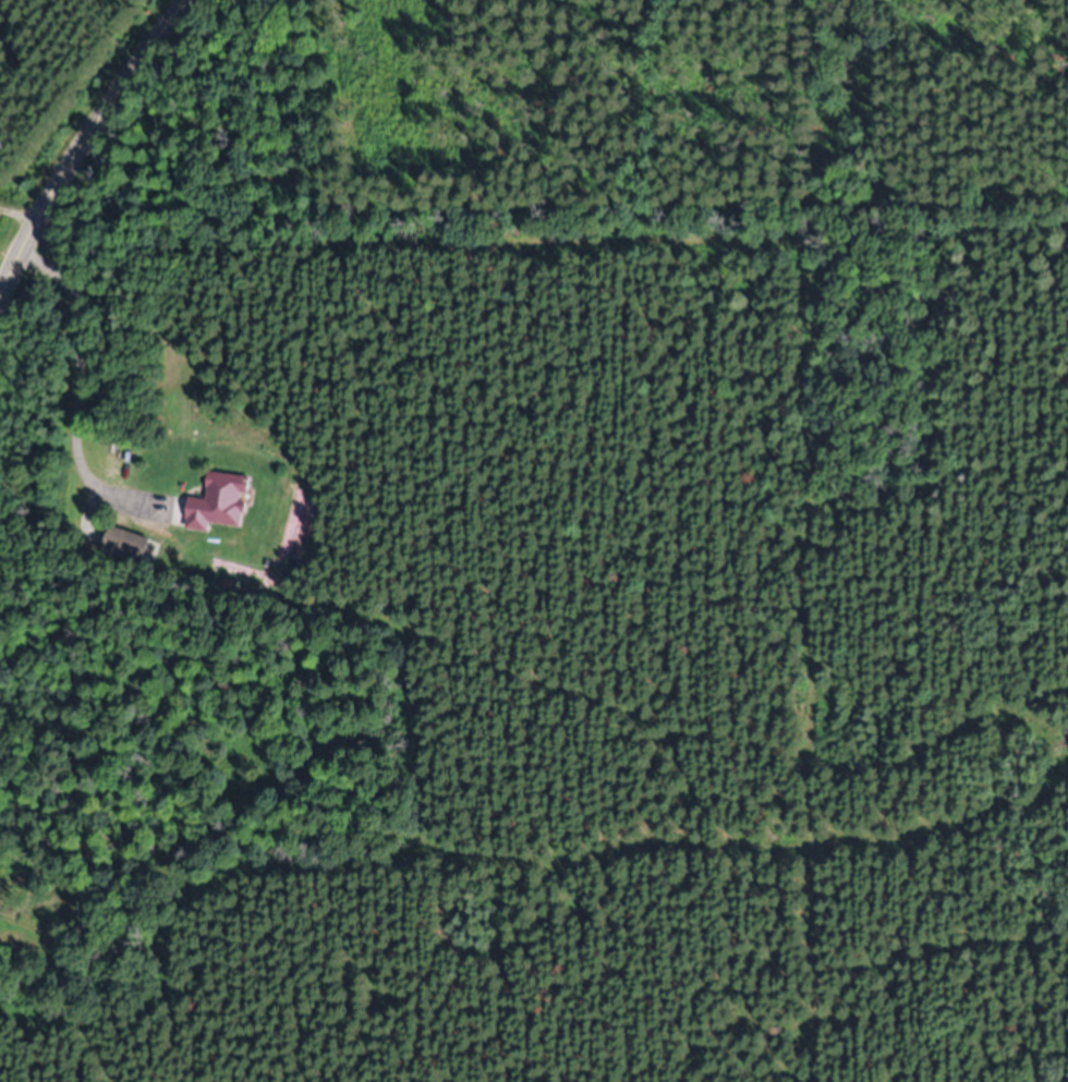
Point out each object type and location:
road: (81, 134)
building: (222, 502)
building: (129, 546)

